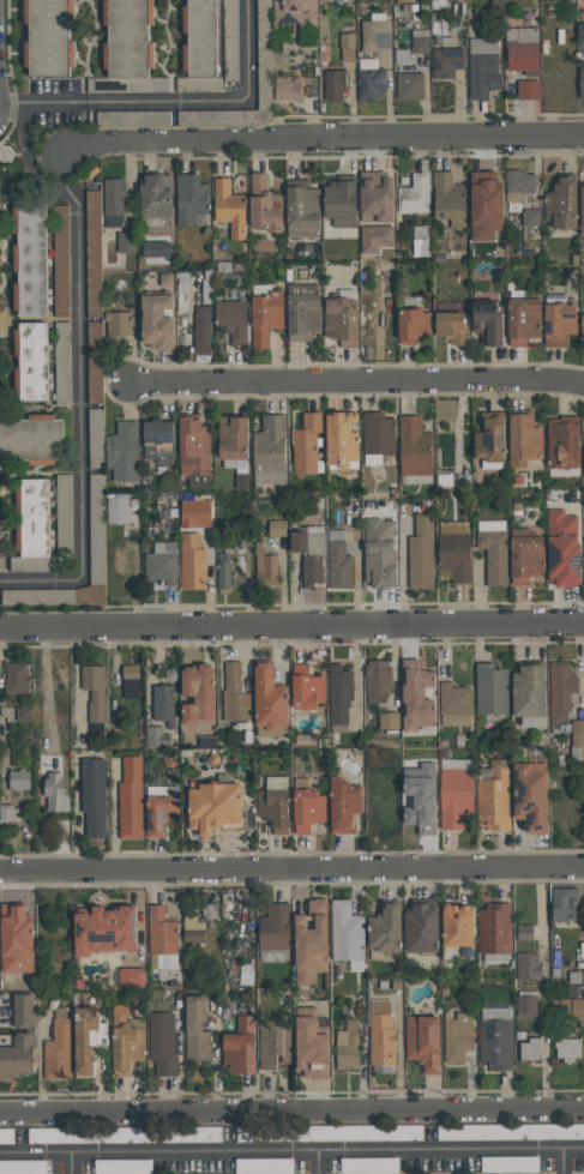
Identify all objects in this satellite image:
building: (439, 4)
building: (522, 10)
building: (299, 14)
building: (580, 30)
building: (378, 31)
building: (52, 36)
building: (421, 40)
building: (210, 44)
building: (348, 46)
building: (524, 48)
building: (131, 49)
building: (265, 54)
building: (402, 55)
building: (448, 61)
building: (484, 67)
building: (373, 79)
building: (582, 82)
building: (336, 84)
building: (411, 86)
building: (289, 88)
building: (530, 89)
road: (216, 100)
road: (42, 102)
building: (134, 118)
road: (321, 138)
road: (28, 164)
building: (0, 182)
building: (520, 185)
building: (380, 194)
building: (416, 194)
building: (158, 195)
building: (193, 198)
building: (452, 199)
building: (115, 200)
building: (344, 203)
building: (565, 203)
building: (267, 204)
building: (489, 205)
building: (230, 207)
building: (305, 207)
building: (532, 217)
building: (583, 234)
building: (377, 237)
building: (422, 240)
building: (127, 241)
building: (157, 248)
building: (95, 252)
building: (32, 257)
building: (61, 260)
building: (168, 279)
building: (306, 311)
building: (526, 317)
building: (269, 318)
building: (234, 319)
building: (344, 319)
building: (161, 320)
building: (561, 320)
building: (492, 321)
building: (416, 325)
building: (119, 326)
building: (454, 326)
building: (582, 326)
building: (203, 330)
building: (35, 361)
building: (62, 362)
building: (95, 362)
road: (355, 380)
road: (80, 427)
building: (96, 437)
building: (379, 437)
building: (526, 438)
building: (32, 439)
building: (161, 440)
building: (236, 440)
building: (345, 440)
building: (494, 440)
building: (566, 442)
building: (583, 442)
building: (307, 444)
building: (271, 450)
building: (416, 450)
building: (125, 451)
building: (197, 452)
building: (122, 508)
building: (197, 512)
building: (64, 514)
building: (35, 526)
building: (278, 528)
building: (97, 529)
building: (495, 549)
building: (565, 549)
building: (422, 552)
building: (456, 552)
building: (312, 553)
building: (381, 553)
building: (528, 555)
building: (193, 561)
building: (339, 561)
building: (163, 562)
building: (1, 564)
building: (266, 566)
building: (224, 570)
road: (291, 625)
building: (18, 678)
building: (379, 680)
building: (132, 681)
building: (493, 686)
building: (308, 687)
building: (562, 688)
building: (96, 691)
building: (201, 692)
building: (341, 693)
building: (534, 693)
building: (236, 694)
building: (420, 696)
building: (273, 702)
building: (164, 704)
building: (456, 704)
building: (26, 714)
building: (389, 720)
building: (350, 722)
building: (158, 736)
building: (578, 739)
building: (20, 779)
building: (56, 791)
building: (457, 791)
building: (535, 794)
building: (95, 795)
building: (425, 796)
building: (495, 796)
building: (132, 797)
building: (277, 802)
building: (347, 803)
building: (218, 805)
building: (309, 805)
building: (163, 807)
building: (10, 812)
road: (291, 869)
building: (566, 903)
building: (210, 910)
building: (462, 925)
building: (426, 926)
building: (108, 929)
building: (194, 929)
building: (389, 932)
building: (496, 932)
building: (526, 932)
building: (276, 933)
building: (349, 934)
building: (163, 937)
building: (314, 941)
building: (530, 965)
building: (22, 969)
building: (246, 974)
building: (133, 977)
building: (82, 982)
building: (528, 1004)
building: (568, 1009)
building: (25, 1010)
building: (199, 1030)
building: (383, 1032)
building: (522, 1034)
building: (459, 1036)
building: (498, 1037)
building: (91, 1038)
building: (128, 1038)
building: (426, 1041)
building: (163, 1042)
building: (276, 1042)
building: (315, 1043)
building: (349, 1046)
building: (60, 1047)
building: (242, 1047)
building: (532, 1048)
building: (570, 1048)
building: (18, 1054)
road: (291, 1110)
building: (511, 1131)
building: (330, 1132)
building: (127, 1133)
road: (291, 1154)
road: (560, 1162)
road: (315, 1163)
building: (371, 1163)
building: (512, 1163)
building: (266, 1164)
road: (68, 1166)
building: (125, 1166)
building: (24, 1167)

